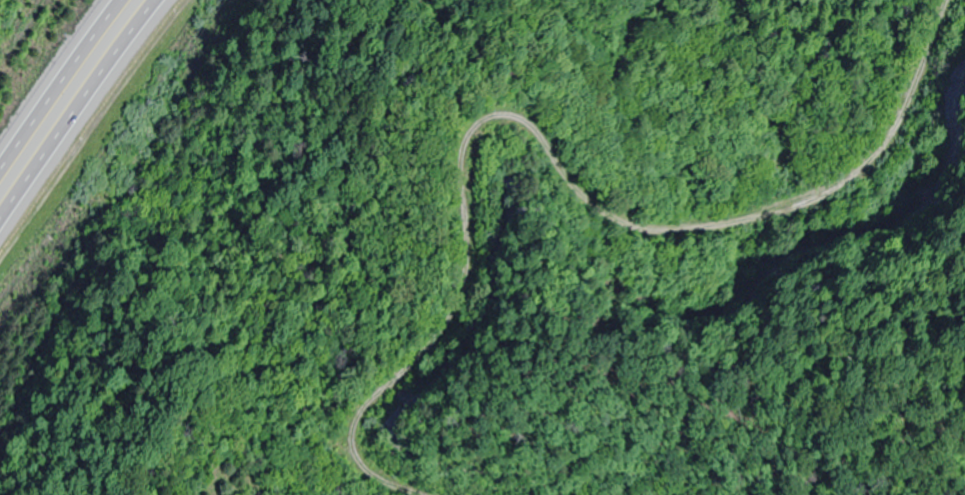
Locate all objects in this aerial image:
road: (63, 91)
road: (78, 112)

